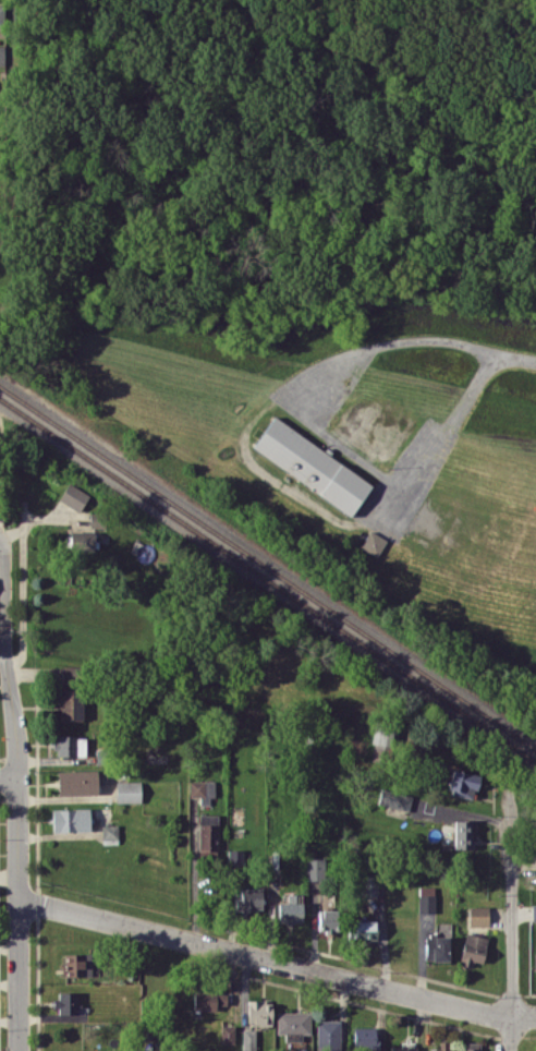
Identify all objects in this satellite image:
building: (1, 14)
building: (2, 55)
road: (516, 359)
road: (308, 420)
building: (312, 466)
building: (73, 496)
building: (96, 518)
road: (1, 539)
building: (80, 541)
building: (373, 542)
railway: (268, 566)
railway: (268, 581)
building: (69, 704)
building: (378, 736)
building: (69, 745)
road: (9, 778)
building: (76, 782)
building: (462, 783)
building: (127, 790)
building: (202, 790)
road: (17, 795)
building: (394, 798)
building: (70, 819)
building: (207, 832)
building: (109, 833)
building: (462, 834)
building: (314, 869)
building: (370, 884)
building: (247, 898)
building: (426, 899)
building: (290, 908)
building: (533, 911)
building: (477, 916)
building: (327, 920)
road: (512, 920)
building: (362, 929)
building: (436, 943)
building: (472, 949)
road: (276, 962)
building: (77, 964)
building: (208, 1000)
building: (65, 1002)
building: (258, 1012)
building: (293, 1024)
building: (227, 1034)
building: (328, 1035)
building: (365, 1038)
building: (248, 1039)
building: (472, 1046)
building: (403, 1047)

